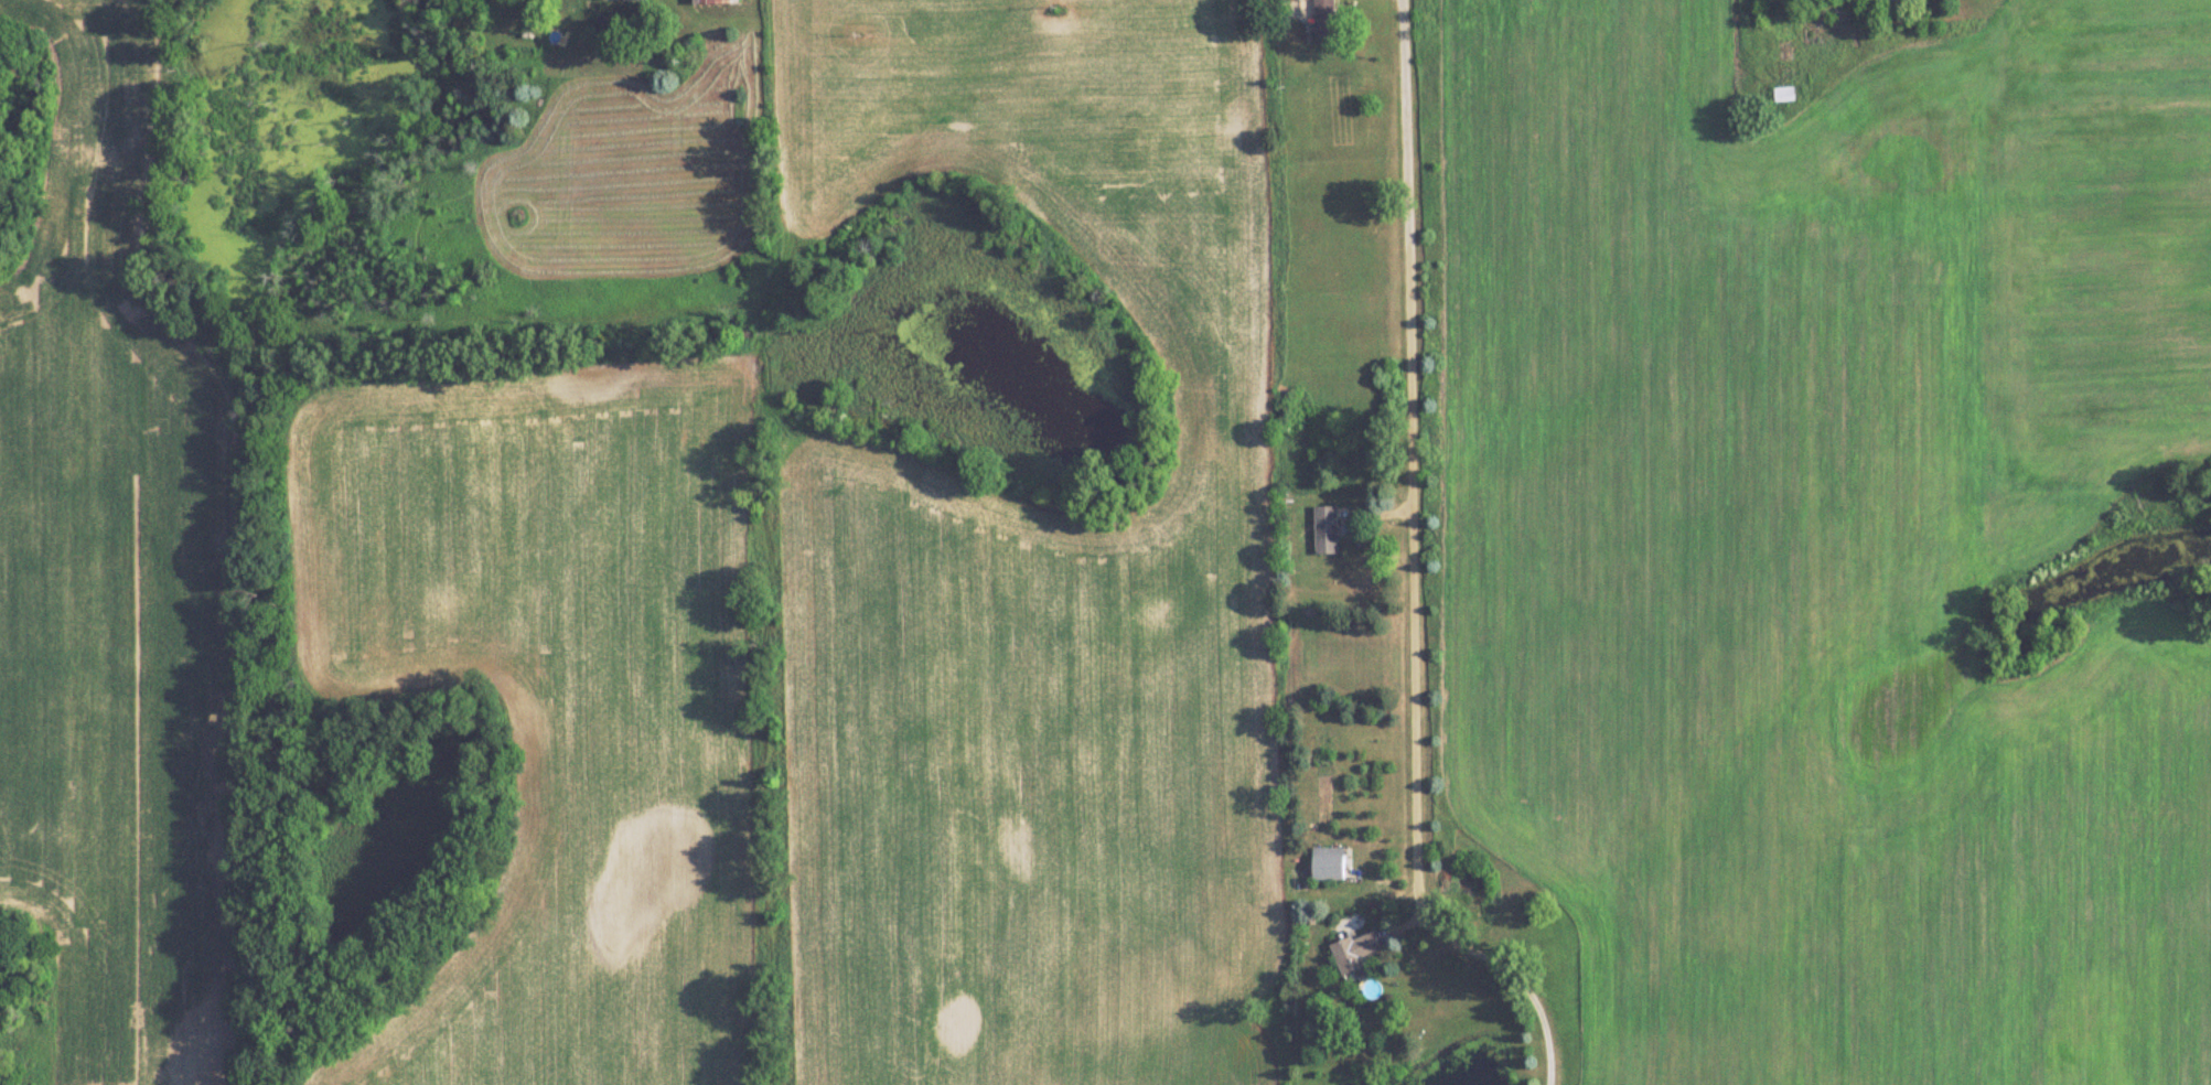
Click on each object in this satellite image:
building: (716, 1)
building: (1324, 21)
building: (1783, 93)
building: (1325, 530)
road: (1414, 572)
building: (1329, 861)
building: (1355, 952)

